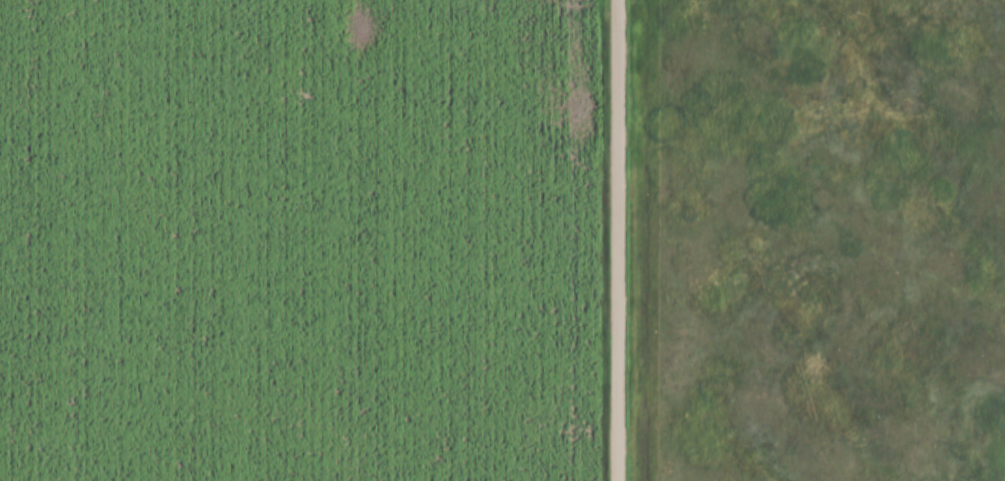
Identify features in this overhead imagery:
road: (621, 240)

